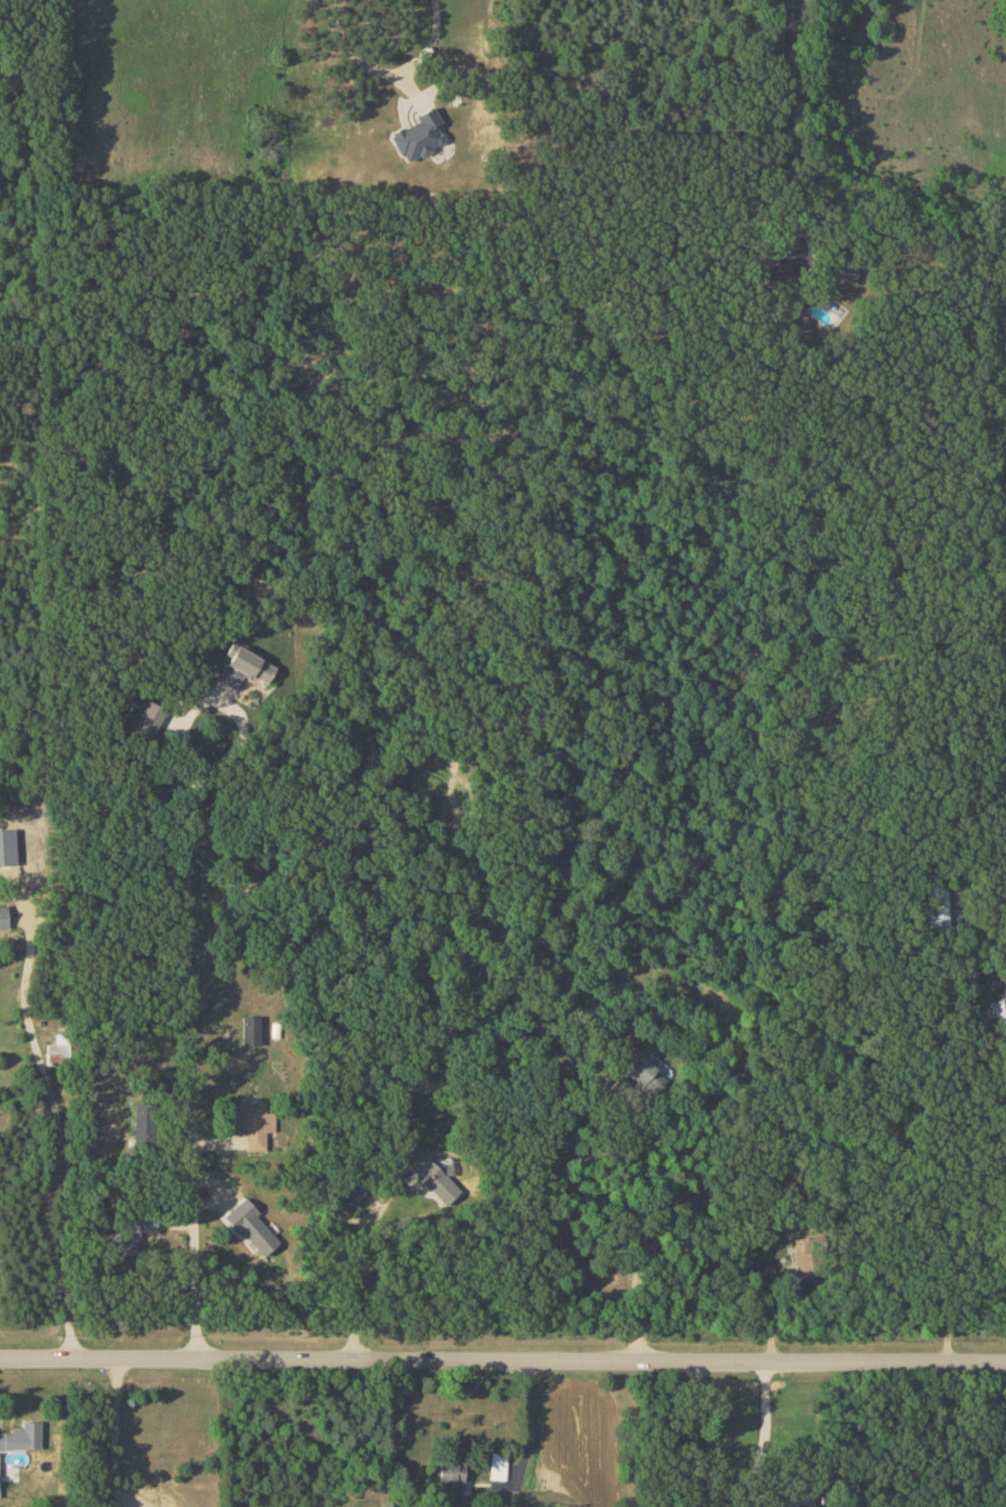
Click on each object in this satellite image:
road: (357, 48)
road: (788, 125)
building: (419, 135)
building: (246, 669)
building: (147, 722)
building: (937, 906)
building: (3, 916)
road: (191, 963)
building: (251, 1029)
building: (59, 1047)
building: (643, 1071)
building: (256, 1123)
road: (973, 1126)
road: (60, 1133)
building: (431, 1174)
building: (354, 1195)
road: (648, 1217)
building: (252, 1225)
building: (133, 1230)
road: (365, 1270)
road: (503, 1361)
road: (767, 1415)
road: (114, 1429)
road: (693, 1434)
road: (530, 1435)
building: (21, 1436)
building: (498, 1464)
building: (451, 1475)
building: (794, 1495)
road: (143, 1499)
road: (113, 1503)

